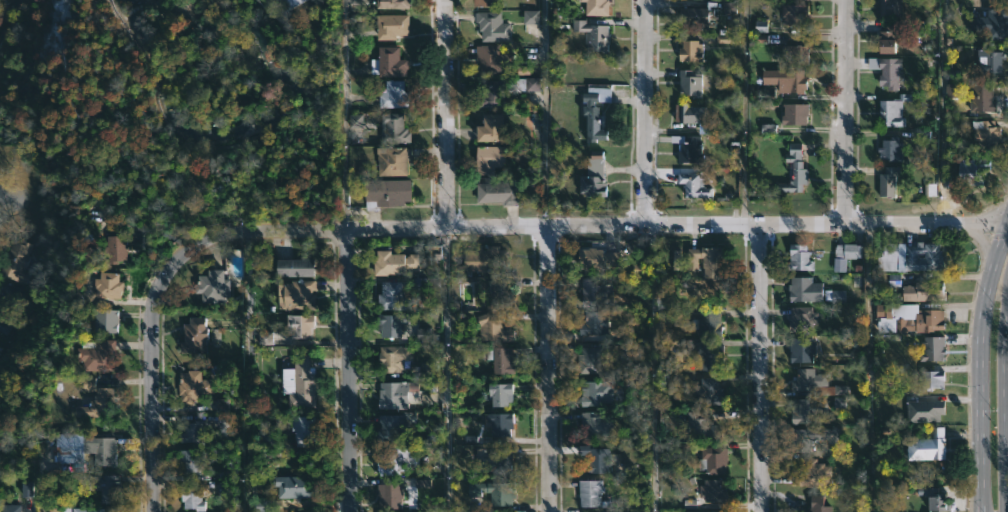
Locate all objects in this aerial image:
building: (391, 2)
building: (481, 2)
building: (289, 4)
building: (597, 6)
building: (888, 8)
building: (795, 14)
building: (694, 15)
building: (531, 17)
building: (982, 22)
building: (487, 23)
building: (995, 23)
building: (385, 25)
building: (594, 34)
building: (889, 40)
building: (689, 50)
building: (796, 53)
building: (492, 58)
building: (988, 60)
building: (387, 62)
building: (886, 70)
building: (781, 82)
building: (690, 83)
building: (530, 84)
building: (952, 90)
building: (486, 94)
building: (393, 95)
building: (982, 97)
road: (646, 110)
building: (593, 111)
road: (744, 111)
building: (892, 111)
road: (848, 112)
road: (943, 112)
road: (443, 113)
road: (541, 113)
building: (688, 113)
building: (794, 114)
building: (362, 118)
building: (491, 128)
building: (393, 129)
building: (983, 135)
railway: (228, 147)
building: (689, 147)
building: (888, 149)
building: (489, 157)
building: (390, 160)
building: (794, 167)
building: (973, 172)
building: (594, 176)
building: (887, 182)
building: (693, 185)
building: (384, 192)
building: (497, 192)
road: (4, 201)
road: (1006, 219)
traffic signals: (1005, 223)
road: (1006, 223)
road: (591, 224)
road: (981, 241)
building: (117, 249)
building: (847, 251)
building: (95, 254)
building: (907, 256)
building: (704, 257)
building: (595, 258)
building: (798, 258)
building: (485, 259)
building: (14, 261)
building: (390, 262)
building: (839, 265)
building: (292, 267)
building: (96, 286)
building: (110, 286)
building: (210, 286)
building: (499, 288)
building: (803, 289)
building: (918, 291)
building: (595, 292)
building: (9, 294)
building: (293, 295)
building: (388, 296)
building: (835, 296)
building: (800, 316)
building: (906, 319)
building: (96, 321)
building: (593, 322)
building: (708, 322)
building: (388, 324)
building: (297, 325)
building: (3, 327)
building: (493, 329)
building: (192, 335)
building: (425, 335)
building: (801, 348)
building: (932, 348)
building: (89, 355)
building: (391, 358)
building: (709, 358)
building: (501, 359)
building: (589, 363)
road: (979, 365)
road: (651, 367)
road: (761, 367)
road: (867, 368)
road: (350, 369)
road: (447, 369)
road: (548, 369)
road: (248, 371)
road: (150, 376)
building: (808, 378)
building: (297, 379)
building: (929, 379)
building: (188, 387)
building: (838, 389)
building: (707, 391)
building: (595, 392)
building: (498, 394)
building: (398, 395)
building: (89, 398)
building: (839, 402)
road: (1003, 404)
building: (221, 405)
building: (806, 411)
building: (925, 411)
building: (301, 424)
building: (500, 424)
building: (704, 425)
building: (597, 426)
building: (393, 427)
building: (193, 432)
building: (810, 437)
building: (927, 446)
building: (70, 448)
building: (105, 449)
building: (595, 459)
building: (714, 460)
building: (190, 461)
building: (498, 461)
building: (394, 462)
building: (811, 474)
building: (422, 483)
building: (288, 484)
building: (101, 487)
building: (491, 491)
building: (712, 491)
building: (591, 493)
building: (389, 496)
building: (188, 499)
building: (935, 500)
building: (816, 504)
building: (262, 505)
building: (6, 509)
building: (90, 510)

